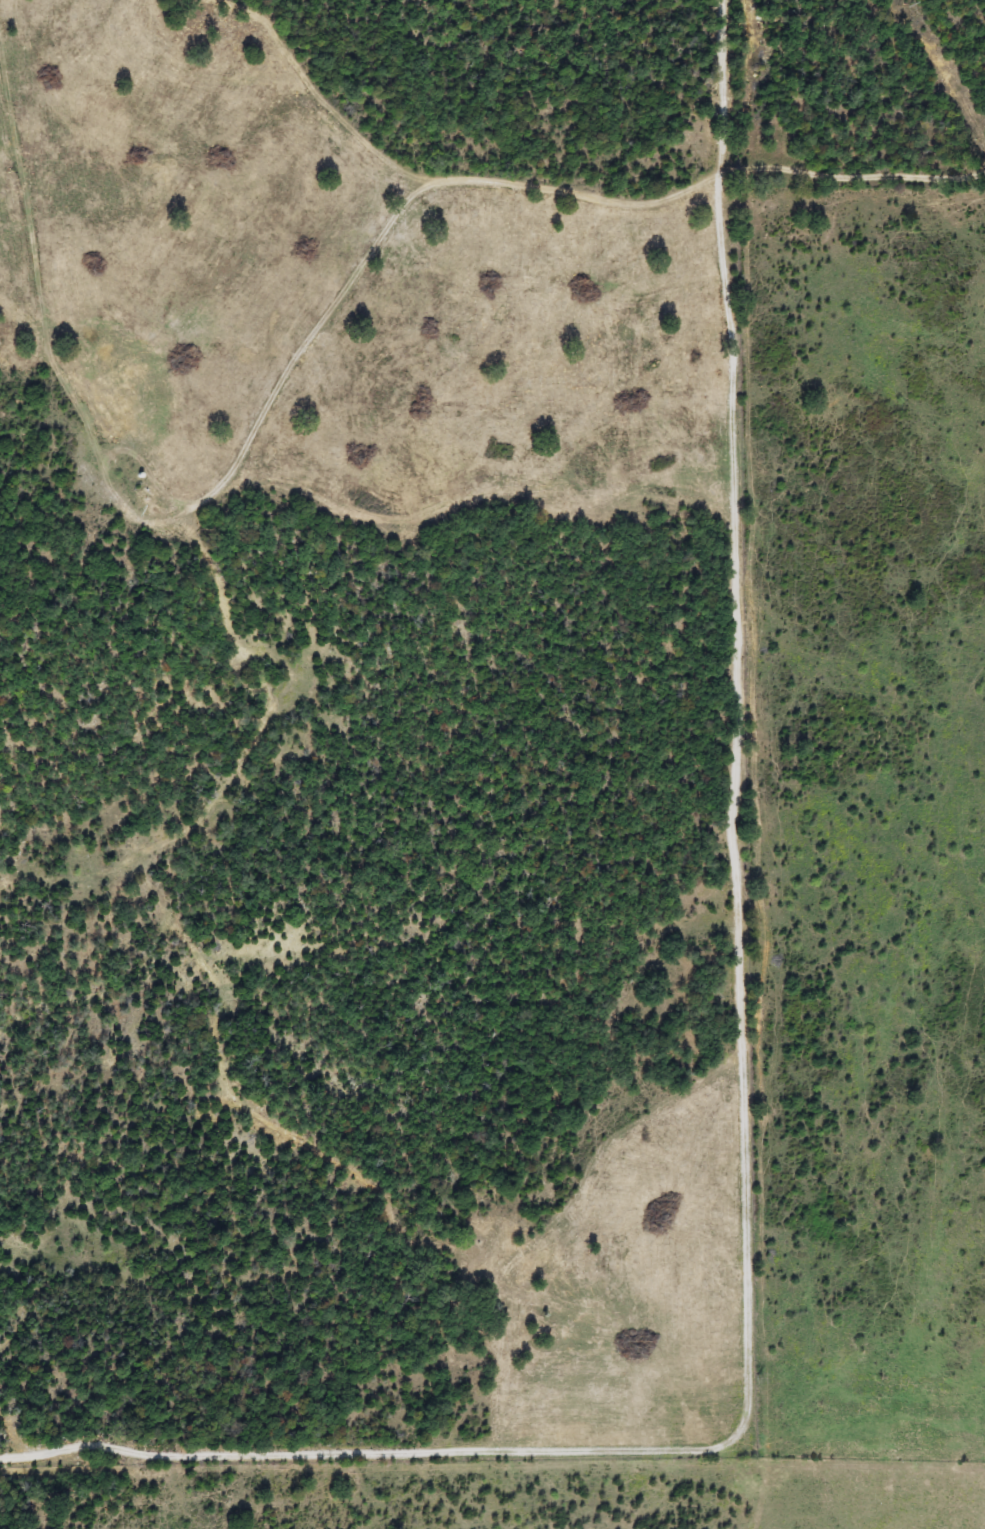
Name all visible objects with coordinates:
power tower: (904, 5)
road: (503, 179)

